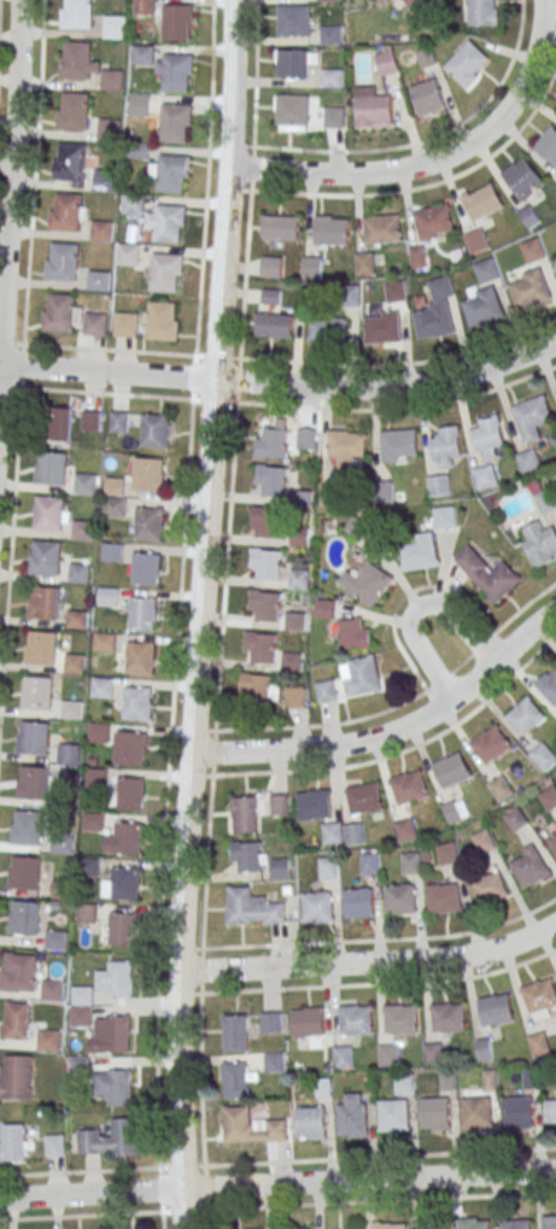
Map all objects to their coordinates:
building: (328, 0)
building: (374, 0)
building: (419, 5)
building: (142, 6)
building: (482, 12)
building: (75, 14)
building: (293, 21)
building: (177, 22)
building: (113, 27)
building: (330, 35)
building: (142, 54)
building: (426, 58)
building: (74, 60)
building: (294, 62)
building: (387, 63)
building: (468, 64)
building: (176, 71)
building: (330, 77)
building: (111, 78)
road: (254, 95)
building: (427, 98)
building: (139, 104)
building: (373, 109)
building: (292, 111)
building: (72, 112)
building: (334, 117)
building: (174, 123)
building: (107, 129)
building: (548, 145)
road: (434, 160)
building: (69, 162)
building: (172, 172)
road: (206, 177)
building: (522, 177)
building: (105, 179)
road: (11, 191)
building: (482, 201)
building: (133, 204)
building: (65, 212)
building: (529, 216)
building: (433, 222)
building: (168, 223)
building: (280, 228)
building: (382, 229)
building: (101, 230)
building: (330, 230)
building: (476, 240)
building: (533, 250)
building: (128, 253)
building: (63, 262)
building: (364, 264)
building: (555, 265)
building: (271, 267)
building: (311, 267)
building: (165, 271)
building: (99, 281)
building: (529, 289)
building: (396, 291)
building: (485, 295)
building: (270, 297)
building: (435, 311)
building: (59, 314)
building: (162, 321)
building: (95, 323)
building: (125, 324)
building: (274, 326)
building: (382, 327)
building: (327, 329)
road: (98, 349)
road: (270, 359)
road: (281, 384)
road: (117, 393)
building: (532, 417)
building: (90, 420)
building: (118, 421)
building: (59, 423)
building: (154, 429)
building: (306, 438)
building: (488, 438)
building: (271, 440)
building: (399, 445)
building: (347, 447)
building: (445, 447)
building: (528, 461)
building: (51, 468)
building: (148, 474)
building: (485, 476)
building: (271, 479)
building: (84, 484)
building: (438, 485)
building: (113, 486)
building: (332, 496)
building: (545, 501)
building: (113, 507)
building: (48, 513)
building: (444, 516)
building: (268, 521)
building: (148, 523)
building: (357, 527)
building: (82, 529)
building: (299, 537)
building: (540, 543)
road: (228, 544)
building: (111, 552)
building: (420, 552)
building: (46, 556)
building: (267, 562)
building: (146, 567)
building: (78, 573)
building: (486, 574)
building: (299, 579)
building: (367, 583)
building: (107, 596)
building: (43, 602)
building: (267, 604)
road: (414, 607)
building: (324, 609)
building: (142, 613)
road: (201, 614)
building: (76, 619)
building: (294, 621)
building: (353, 633)
building: (104, 642)
building: (262, 646)
building: (42, 648)
building: (140, 657)
building: (74, 663)
building: (359, 675)
building: (548, 684)
building: (101, 687)
building: (257, 687)
building: (326, 690)
building: (36, 692)
building: (294, 696)
building: (137, 702)
building: (70, 709)
building: (525, 716)
road: (394, 730)
building: (99, 732)
building: (31, 738)
building: (490, 744)
building: (130, 748)
building: (68, 754)
building: (543, 756)
building: (451, 769)
building: (95, 778)
building: (33, 783)
building: (408, 788)
building: (501, 788)
building: (131, 792)
building: (363, 798)
building: (549, 798)
building: (314, 804)
building: (256, 809)
building: (455, 810)
building: (515, 819)
building: (93, 821)
building: (555, 824)
building: (27, 829)
building: (405, 830)
building: (332, 833)
building: (353, 833)
building: (124, 838)
building: (484, 841)
building: (60, 843)
building: (552, 843)
building: (447, 853)
building: (247, 856)
building: (368, 862)
building: (410, 862)
building: (528, 866)
building: (328, 867)
building: (279, 868)
building: (24, 872)
road: (162, 873)
building: (125, 882)
building: (490, 889)
building: (399, 899)
building: (444, 899)
building: (358, 902)
building: (316, 907)
building: (252, 908)
building: (86, 913)
building: (25, 917)
building: (122, 929)
building: (55, 940)
road: (370, 962)
building: (18, 971)
building: (117, 979)
building: (52, 989)
building: (540, 999)
building: (81, 1007)
building: (496, 1009)
building: (447, 1018)
building: (355, 1019)
building: (399, 1019)
building: (16, 1020)
building: (306, 1022)
building: (270, 1023)
building: (234, 1032)
building: (116, 1034)
building: (47, 1041)
building: (539, 1044)
building: (484, 1049)
building: (432, 1053)
building: (388, 1054)
building: (343, 1057)
building: (274, 1061)
building: (16, 1077)
building: (531, 1078)
building: (235, 1079)
building: (446, 1081)
building: (403, 1083)
building: (115, 1085)
building: (550, 1111)
building: (517, 1112)
building: (434, 1113)
building: (476, 1113)
building: (393, 1116)
building: (353, 1117)
building: (310, 1123)
building: (251, 1126)
building: (110, 1139)
building: (13, 1142)
building: (52, 1145)
road: (80, 1171)
road: (277, 1184)
road: (381, 1200)
road: (124, 1213)
building: (549, 1222)
building: (474, 1223)
building: (515, 1224)
building: (390, 1225)
building: (347, 1228)
building: (431, 1228)

